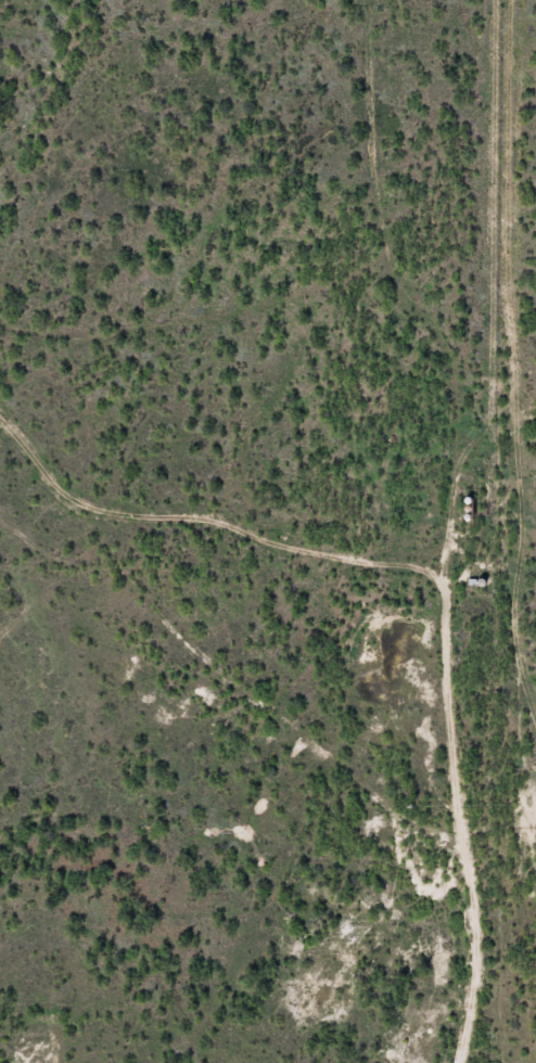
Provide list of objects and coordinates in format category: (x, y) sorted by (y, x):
road: (478, 523)
road: (298, 696)

